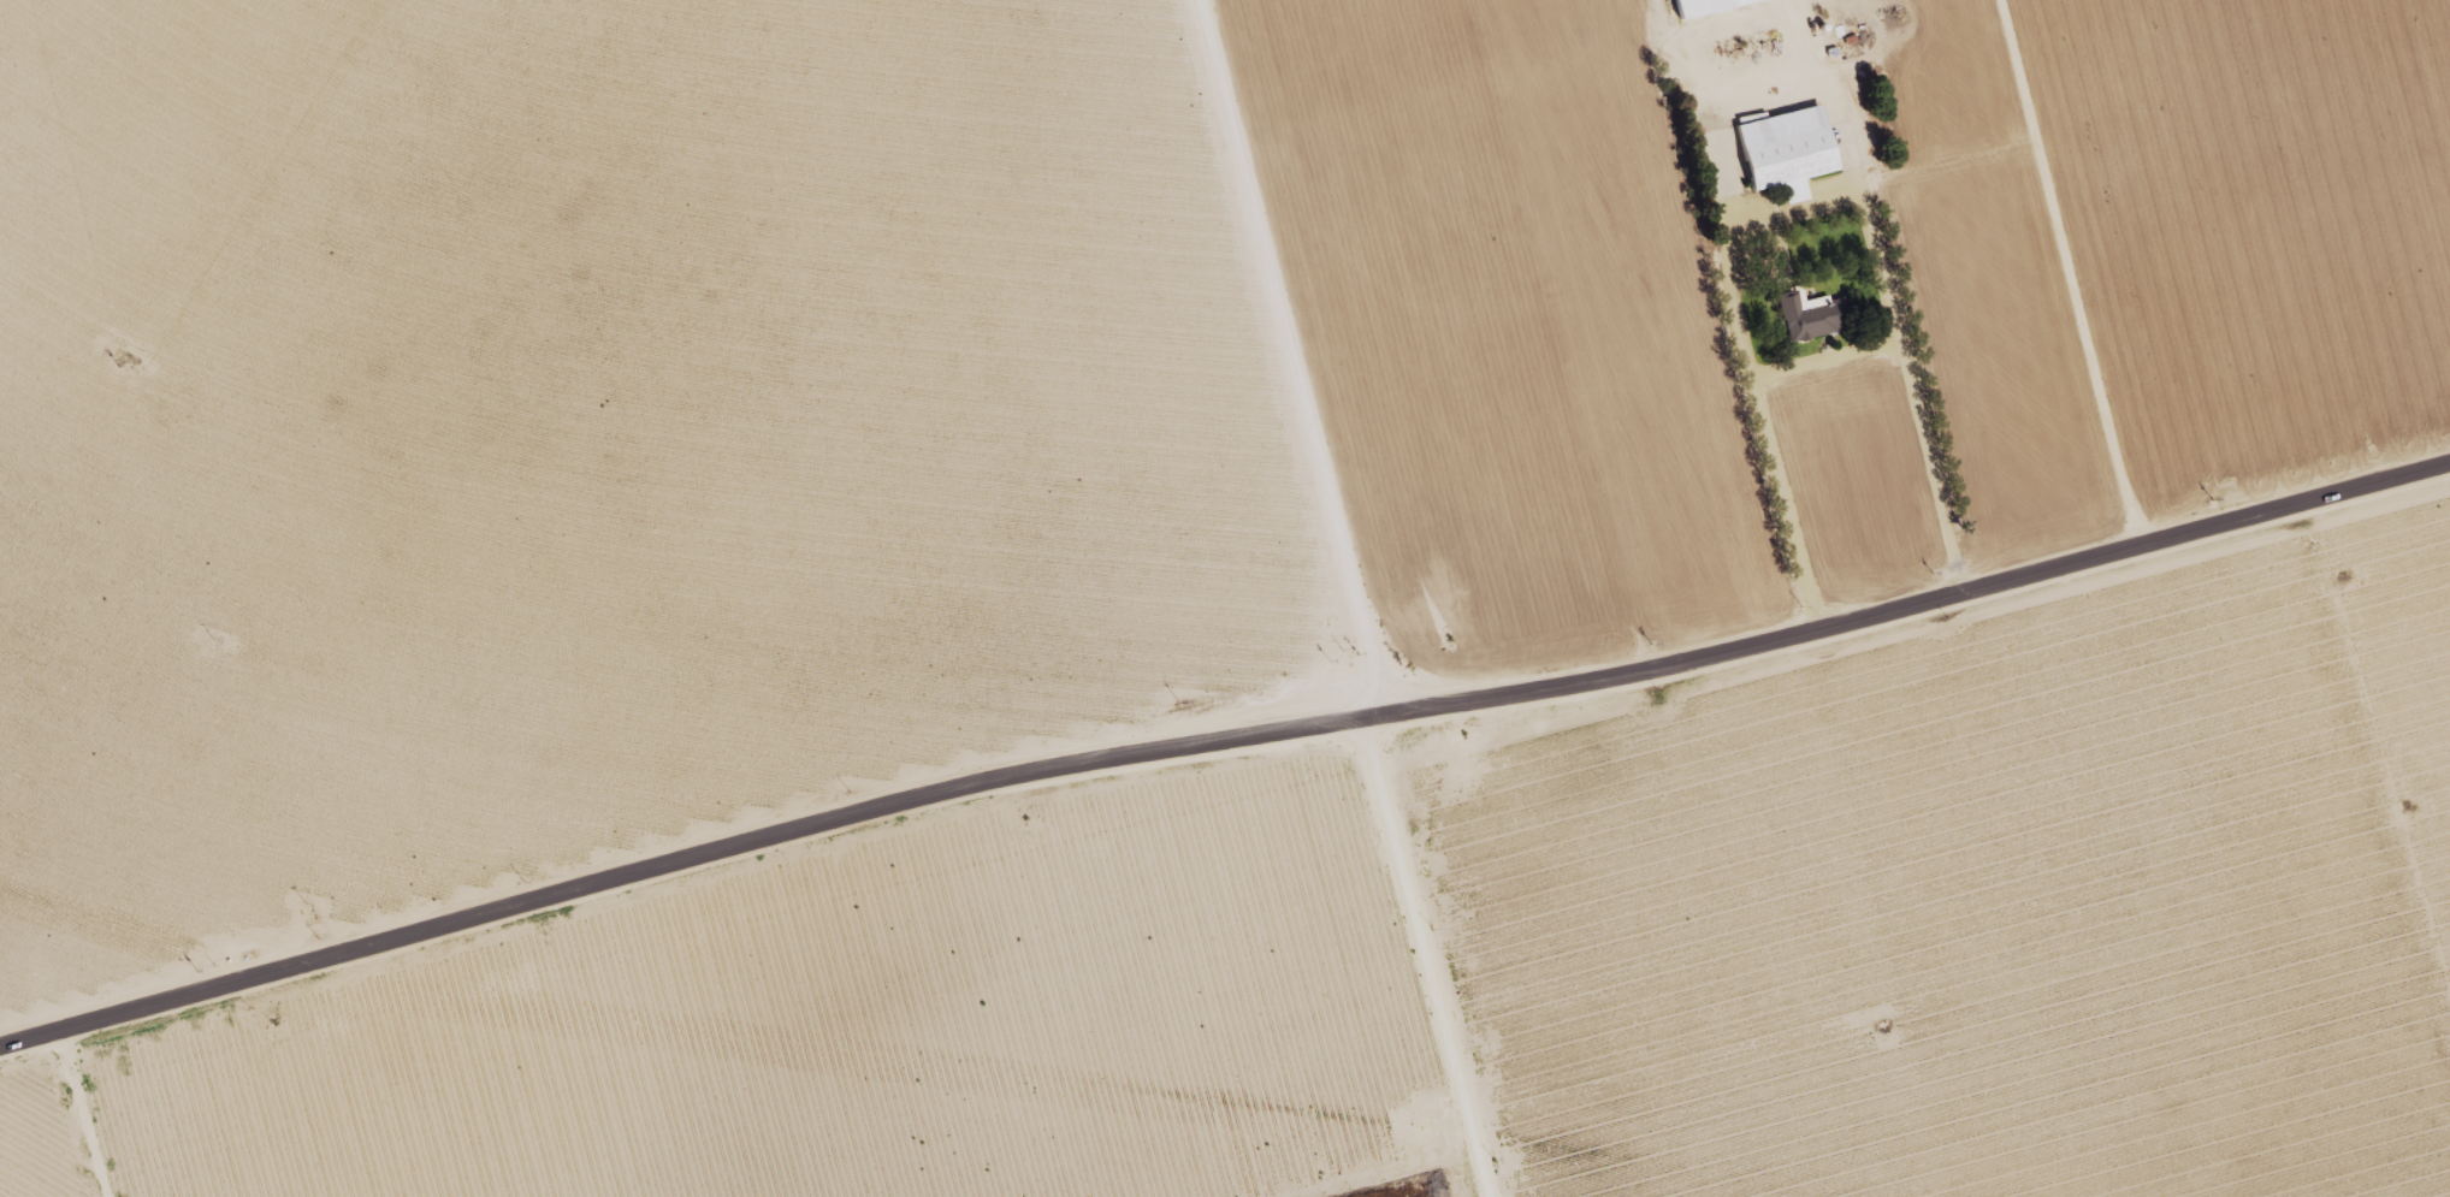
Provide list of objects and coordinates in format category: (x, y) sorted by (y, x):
building: (1698, 5)
building: (1782, 149)
building: (1805, 314)
road: (1273, 343)
road: (1215, 705)
road: (25, 928)
road: (1440, 940)

